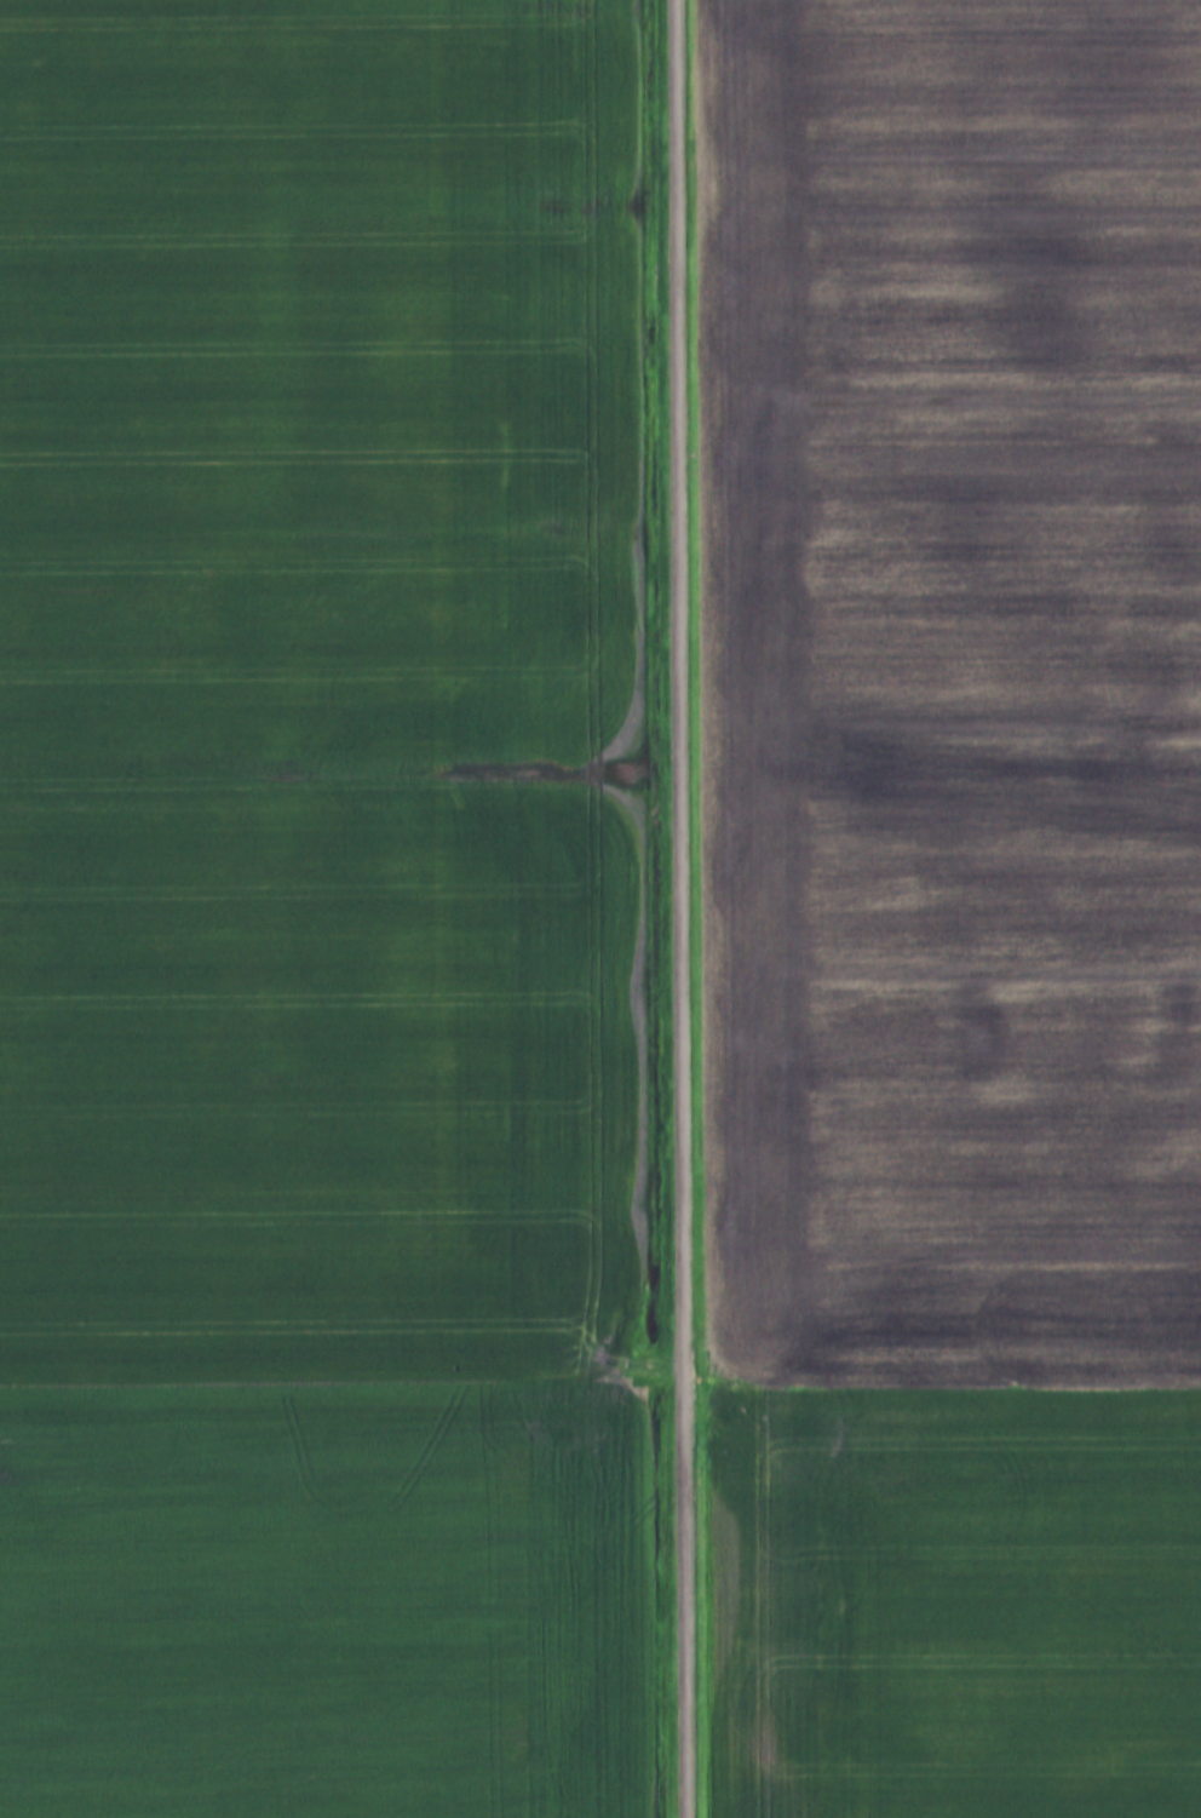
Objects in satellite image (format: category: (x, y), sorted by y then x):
road: (679, 908)

